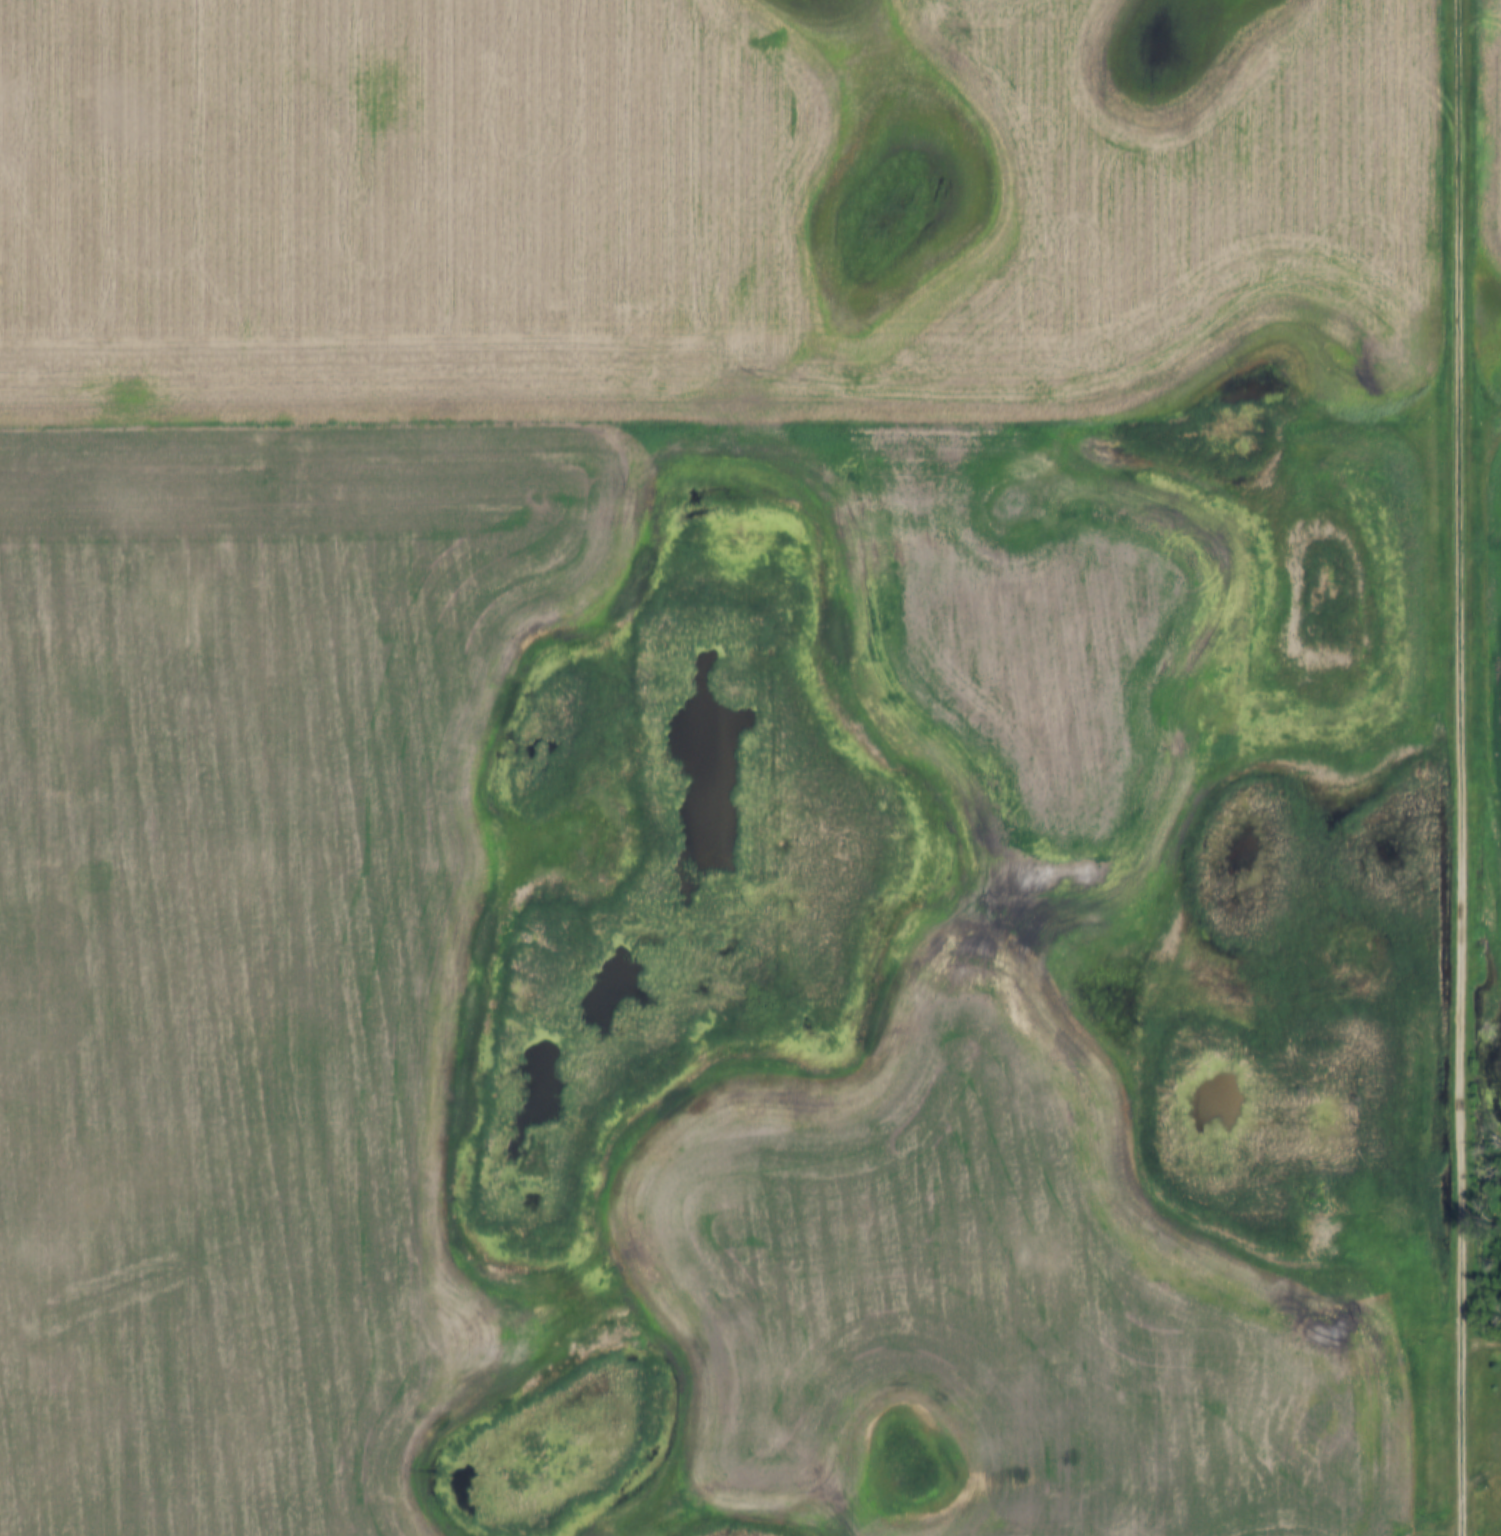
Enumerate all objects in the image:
road: (1459, 768)
road: (1481, 1347)
road: (1481, 1480)

